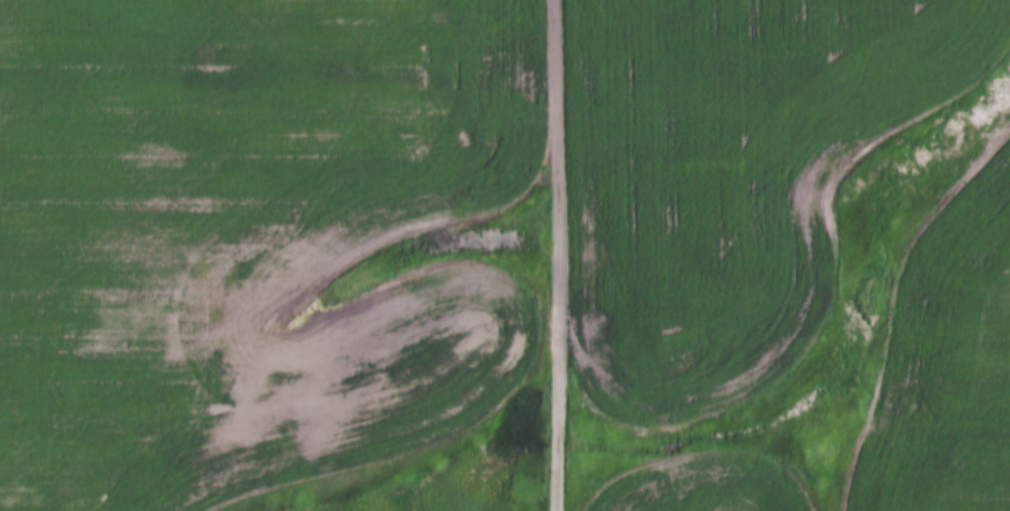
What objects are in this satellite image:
road: (559, 255)

